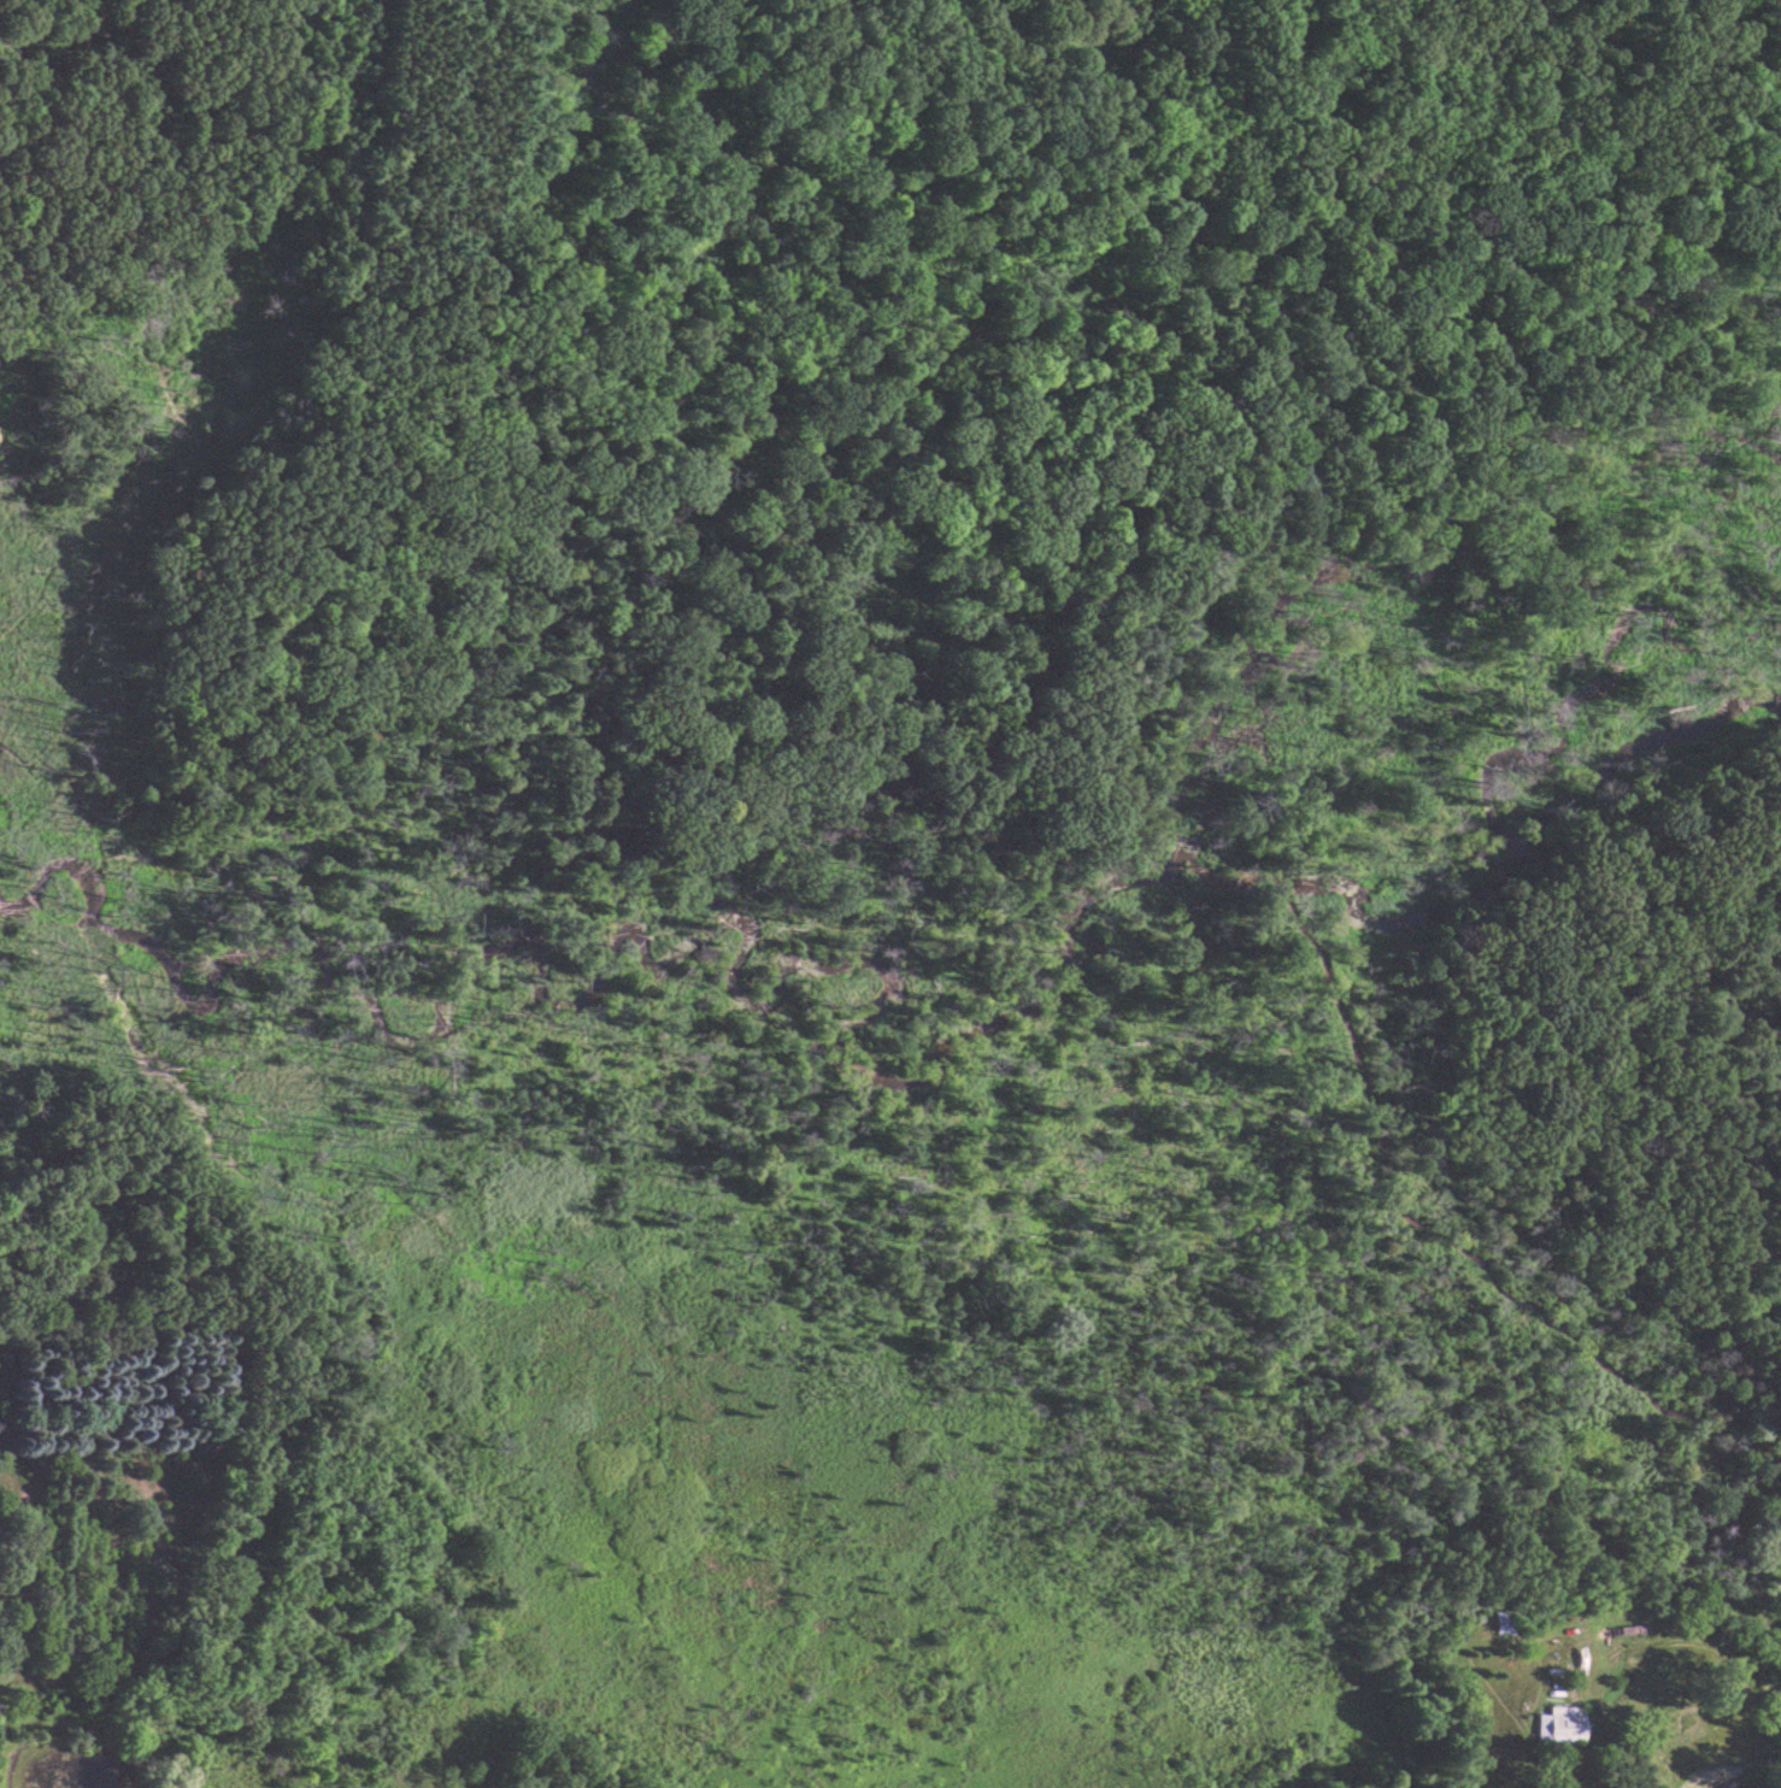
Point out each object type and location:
road: (1651, 29)
road: (1034, 107)
building: (1559, 1723)

